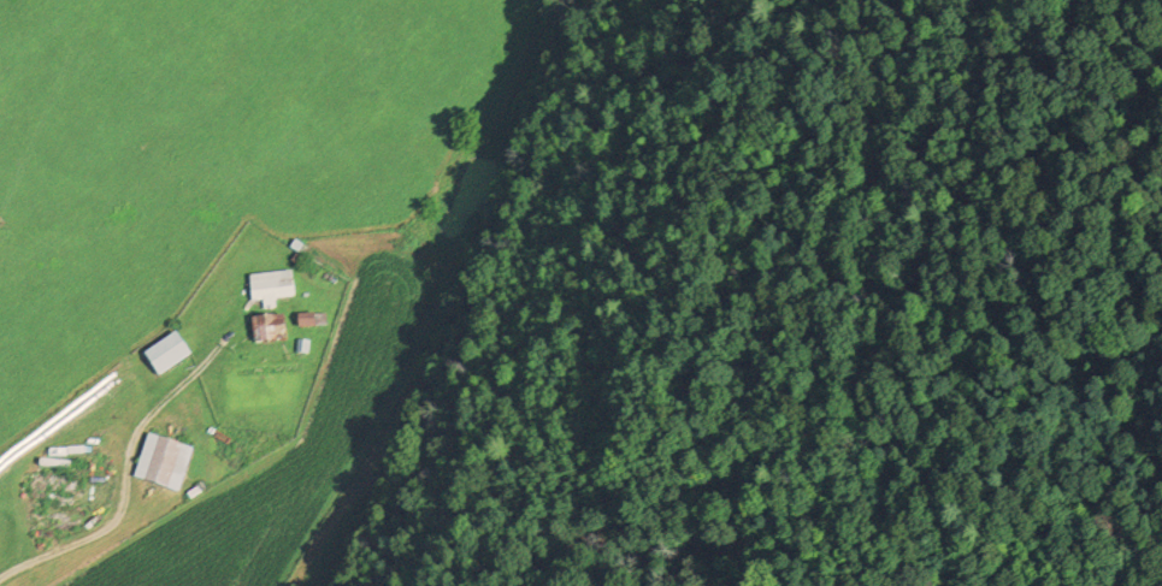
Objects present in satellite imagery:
crop: (206, 156)
building: (323, 262)
building: (273, 288)
building: (273, 331)
building: (171, 356)
crop: (294, 448)
building: (165, 464)
building: (41, 509)
road: (67, 547)

